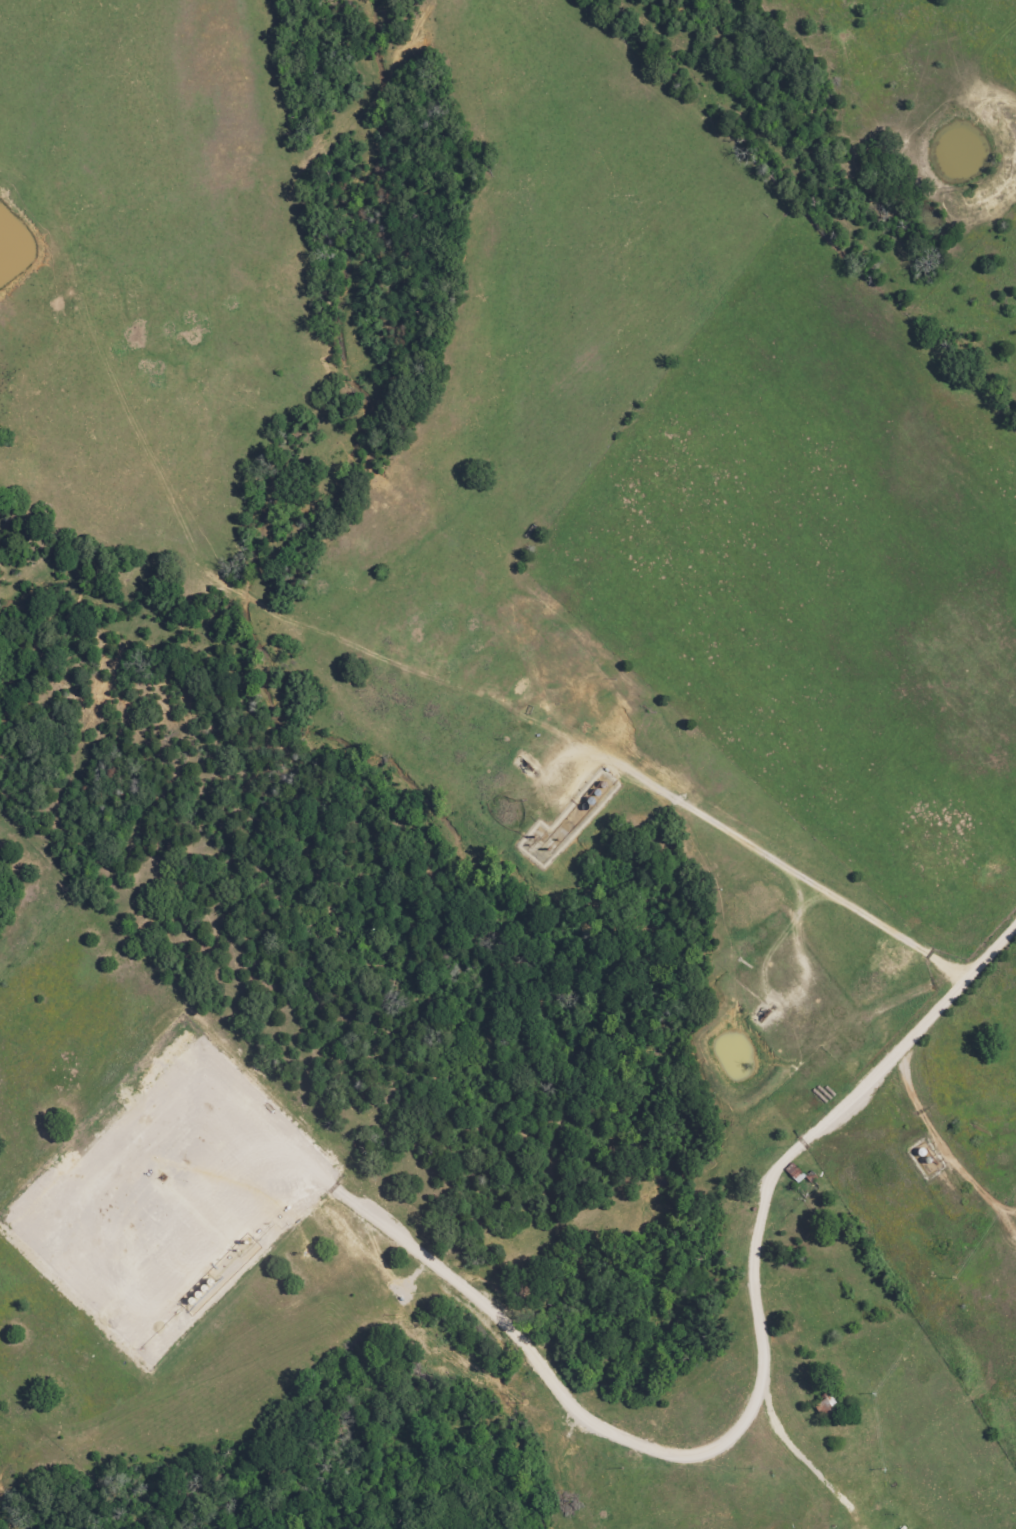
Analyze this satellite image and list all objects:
petroleum well: (534, 767)
road: (952, 992)
petroleum well: (765, 1011)

